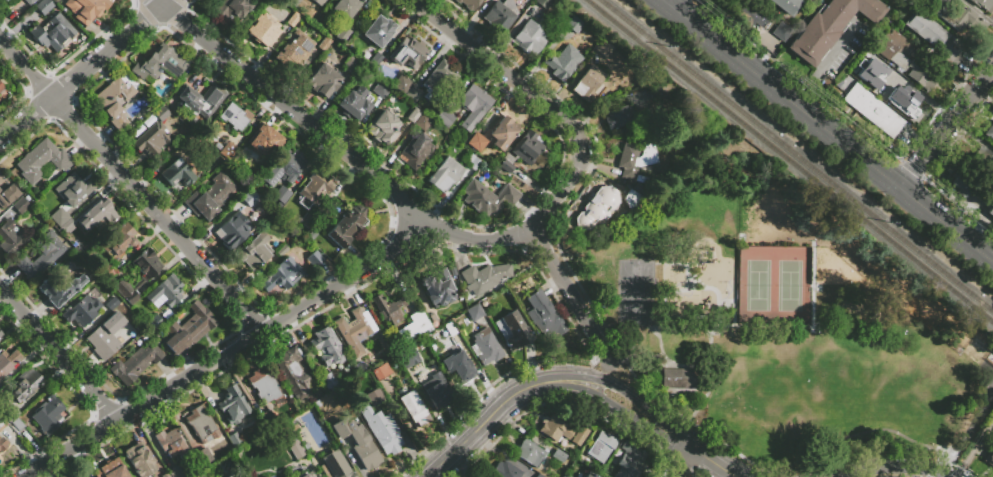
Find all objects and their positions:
building: (4, 0)
building: (29, 2)
building: (293, 2)
building: (318, 2)
road: (669, 2)
building: (543, 3)
building: (468, 4)
building: (983, 4)
building: (787, 5)
building: (43, 6)
building: (345, 7)
building: (231, 8)
building: (86, 9)
road: (157, 11)
road: (978, 11)
building: (748, 15)
building: (956, 15)
building: (501, 17)
building: (293, 19)
building: (573, 24)
building: (829, 26)
building: (264, 30)
building: (379, 31)
road: (131, 32)
building: (780, 32)
building: (928, 32)
building: (53, 33)
building: (341, 34)
building: (529, 38)
building: (323, 43)
building: (604, 49)
building: (294, 50)
building: (408, 53)
building: (374, 60)
building: (860, 61)
building: (906, 62)
building: (160, 63)
building: (563, 63)
road: (825, 63)
building: (349, 64)
building: (869, 72)
road: (799, 79)
building: (324, 80)
building: (437, 80)
building: (401, 84)
building: (588, 84)
building: (1, 87)
road: (58, 90)
building: (381, 90)
road: (782, 92)
building: (412, 93)
building: (892, 93)
building: (656, 94)
building: (197, 98)
road: (539, 99)
building: (113, 101)
building: (355, 103)
building: (473, 105)
building: (873, 111)
building: (160, 112)
building: (413, 114)
building: (620, 116)
building: (445, 117)
building: (236, 118)
building: (423, 121)
building: (384, 126)
road: (947, 126)
building: (989, 132)
building: (502, 133)
road: (973, 135)
building: (150, 136)
building: (264, 140)
building: (477, 141)
building: (228, 150)
building: (415, 151)
building: (525, 152)
railway: (797, 155)
building: (41, 161)
building: (635, 161)
railway: (789, 161)
building: (472, 162)
building: (983, 164)
building: (286, 167)
road: (911, 168)
building: (445, 174)
building: (177, 176)
road: (133, 184)
building: (971, 188)
building: (72, 189)
building: (281, 194)
building: (7, 195)
building: (312, 196)
building: (209, 197)
road: (397, 197)
building: (249, 198)
building: (488, 198)
building: (632, 200)
building: (20, 205)
road: (958, 205)
building: (597, 207)
building: (98, 216)
building: (59, 217)
road: (947, 221)
building: (346, 226)
building: (68, 227)
building: (233, 230)
building: (312, 235)
building: (10, 237)
building: (118, 241)
building: (255, 251)
building: (282, 251)
building: (41, 256)
building: (314, 259)
building: (106, 272)
building: (283, 274)
building: (138, 275)
building: (483, 277)
road: (700, 285)
building: (438, 286)
park: (756, 286)
park: (788, 286)
building: (60, 287)
road: (811, 287)
road: (678, 290)
building: (165, 293)
park: (637, 293)
building: (112, 303)
building: (389, 308)
building: (80, 311)
building: (474, 312)
building: (542, 316)
building: (154, 322)
park: (780, 325)
building: (414, 326)
road: (855, 326)
road: (740, 327)
building: (187, 329)
building: (355, 330)
building: (449, 331)
building: (512, 331)
building: (1, 334)
building: (105, 336)
building: (327, 347)
building: (485, 348)
road: (58, 354)
road: (228, 354)
building: (407, 356)
road: (718, 358)
building: (992, 359)
building: (8, 364)
building: (135, 364)
building: (459, 366)
road: (682, 366)
building: (292, 372)
building: (381, 372)
building: (681, 378)
building: (328, 379)
road: (601, 380)
road: (659, 381)
park: (804, 381)
building: (25, 385)
building: (264, 386)
building: (437, 390)
road: (684, 390)
building: (0, 391)
road: (649, 395)
building: (374, 397)
road: (500, 404)
building: (232, 405)
building: (413, 409)
building: (11, 414)
building: (48, 414)
building: (268, 421)
road: (976, 421)
building: (17, 425)
building: (202, 425)
building: (294, 425)
building: (302, 426)
building: (2, 427)
building: (380, 428)
building: (554, 428)
road: (666, 431)
building: (579, 436)
building: (234, 439)
building: (305, 440)
building: (292, 442)
building: (357, 442)
building: (3, 443)
building: (172, 444)
building: (601, 446)
road: (816, 448)
building: (530, 452)
building: (559, 456)
building: (989, 456)
building: (139, 459)
building: (205, 459)
building: (629, 460)
road: (681, 462)
building: (335, 464)
building: (229, 466)
building: (111, 469)
building: (505, 470)
building: (175, 472)
building: (305, 474)
building: (589, 474)
road: (895, 474)
building: (232, 475)
building: (264, 475)
building: (539, 475)
building: (82, 476)
building: (199, 476)
building: (564, 476)

